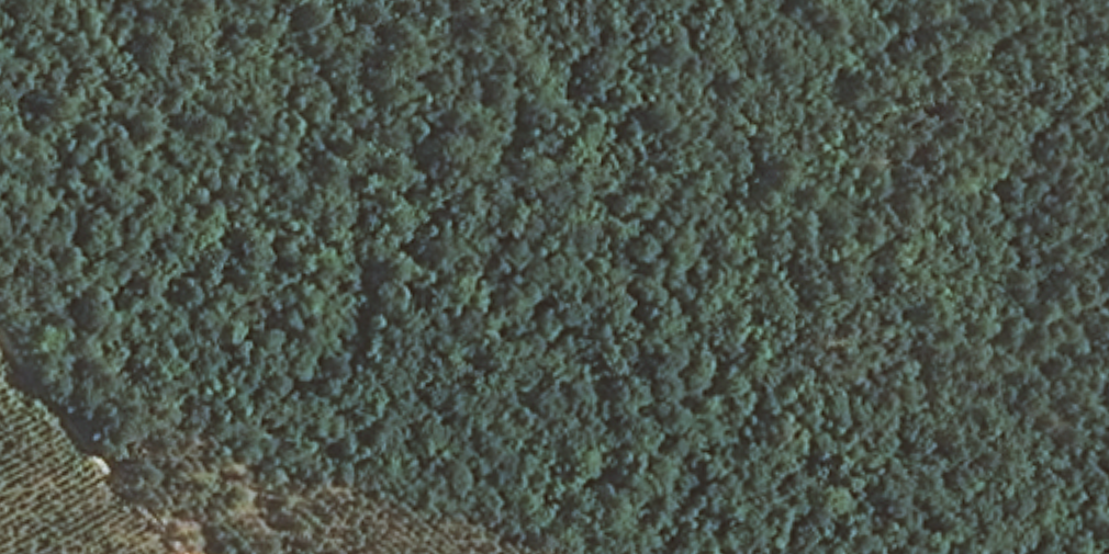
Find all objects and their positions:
road: (996, 72)

